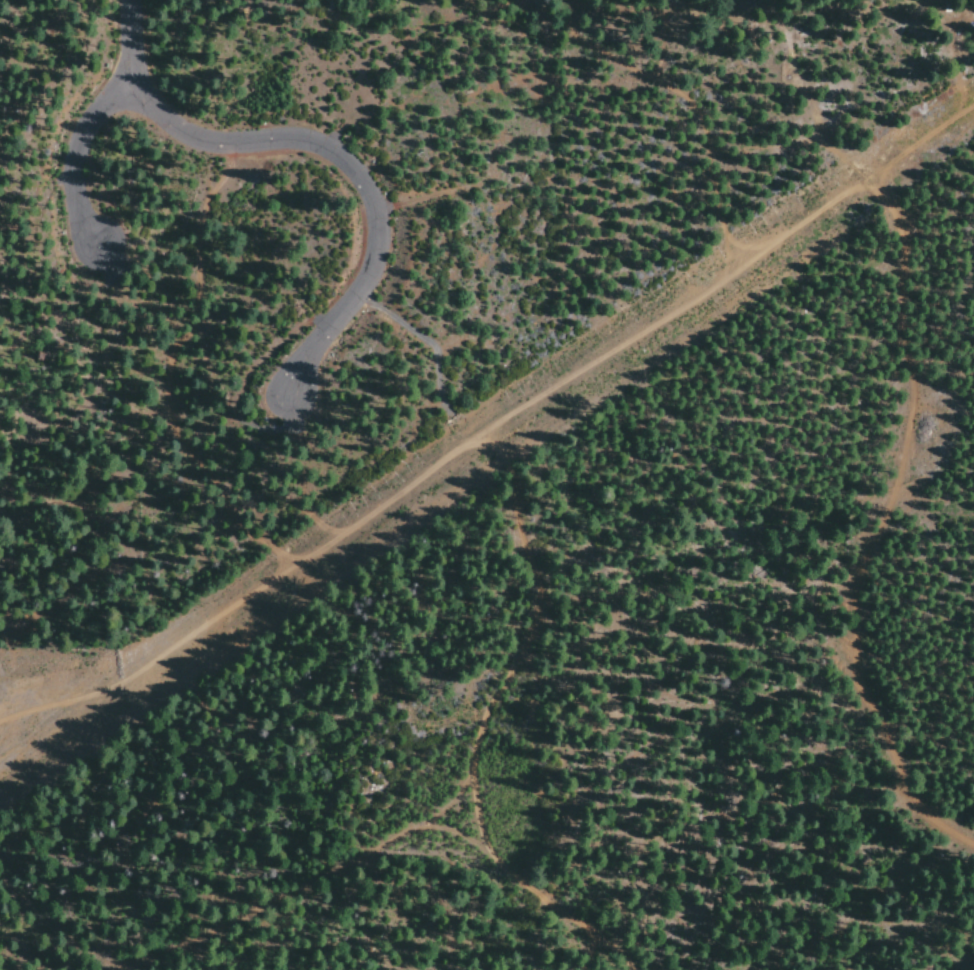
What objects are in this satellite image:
road: (315, 145)
road: (74, 157)
road: (472, 409)
road: (516, 519)
road: (277, 882)
road: (445, 885)
road: (533, 898)

